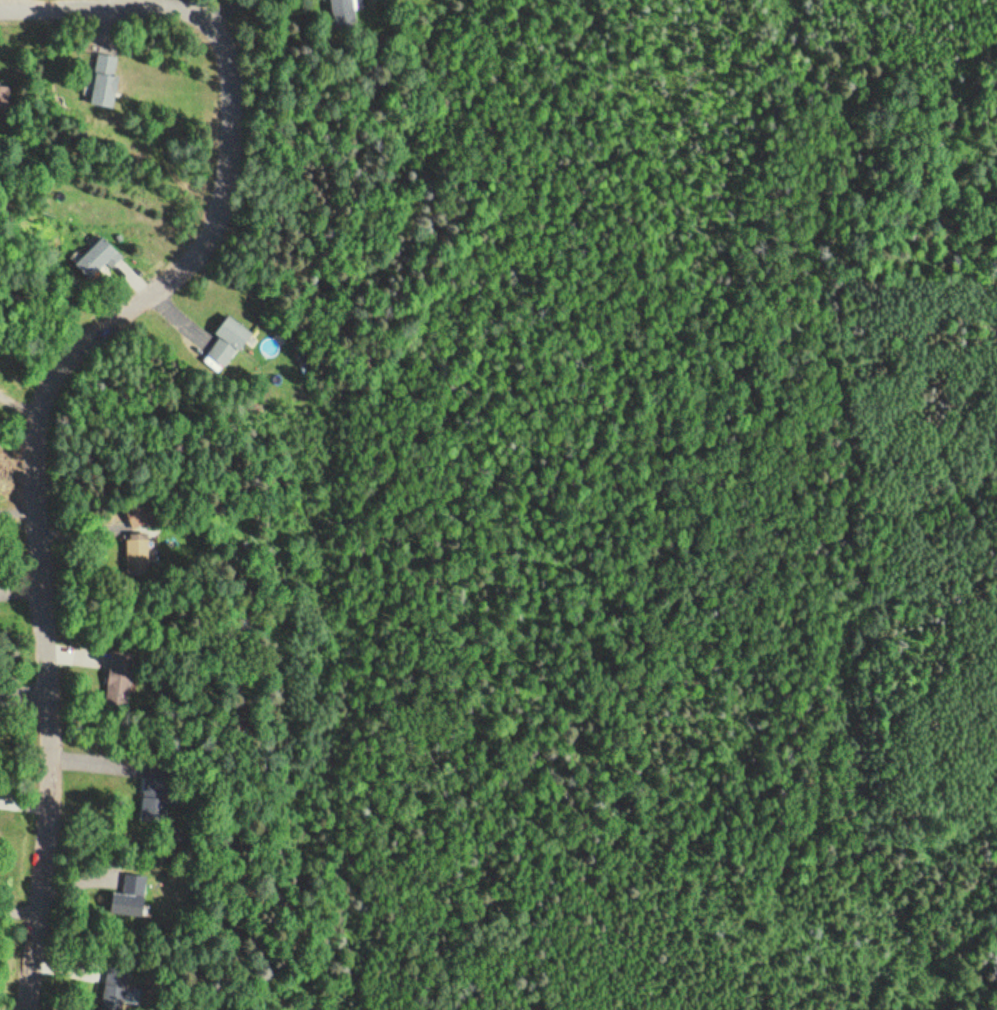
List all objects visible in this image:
building: (343, 8)
building: (109, 81)
building: (8, 94)
building: (99, 258)
building: (233, 340)
road: (58, 390)
building: (144, 515)
building: (143, 554)
building: (122, 673)
building: (159, 786)
building: (135, 894)
building: (117, 992)

